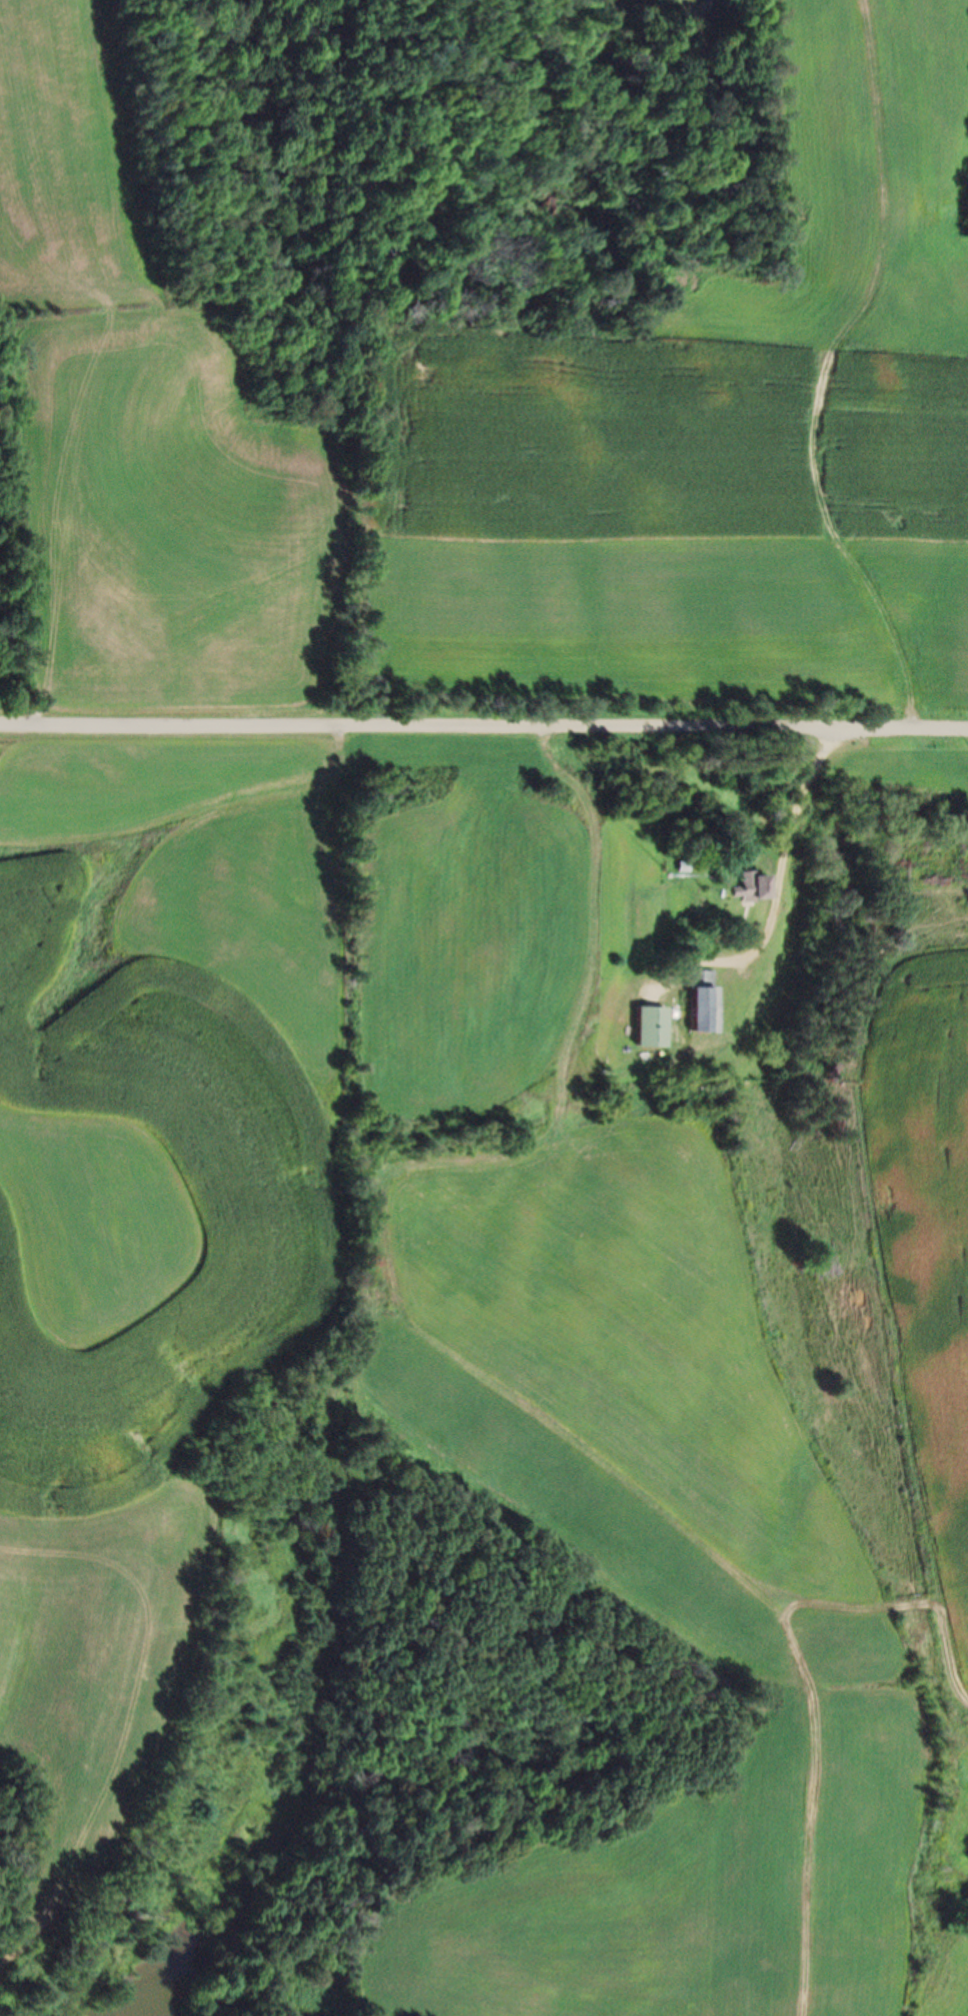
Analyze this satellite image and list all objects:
road: (484, 725)
road: (780, 884)
building: (748, 887)
building: (698, 1000)
building: (648, 1027)

